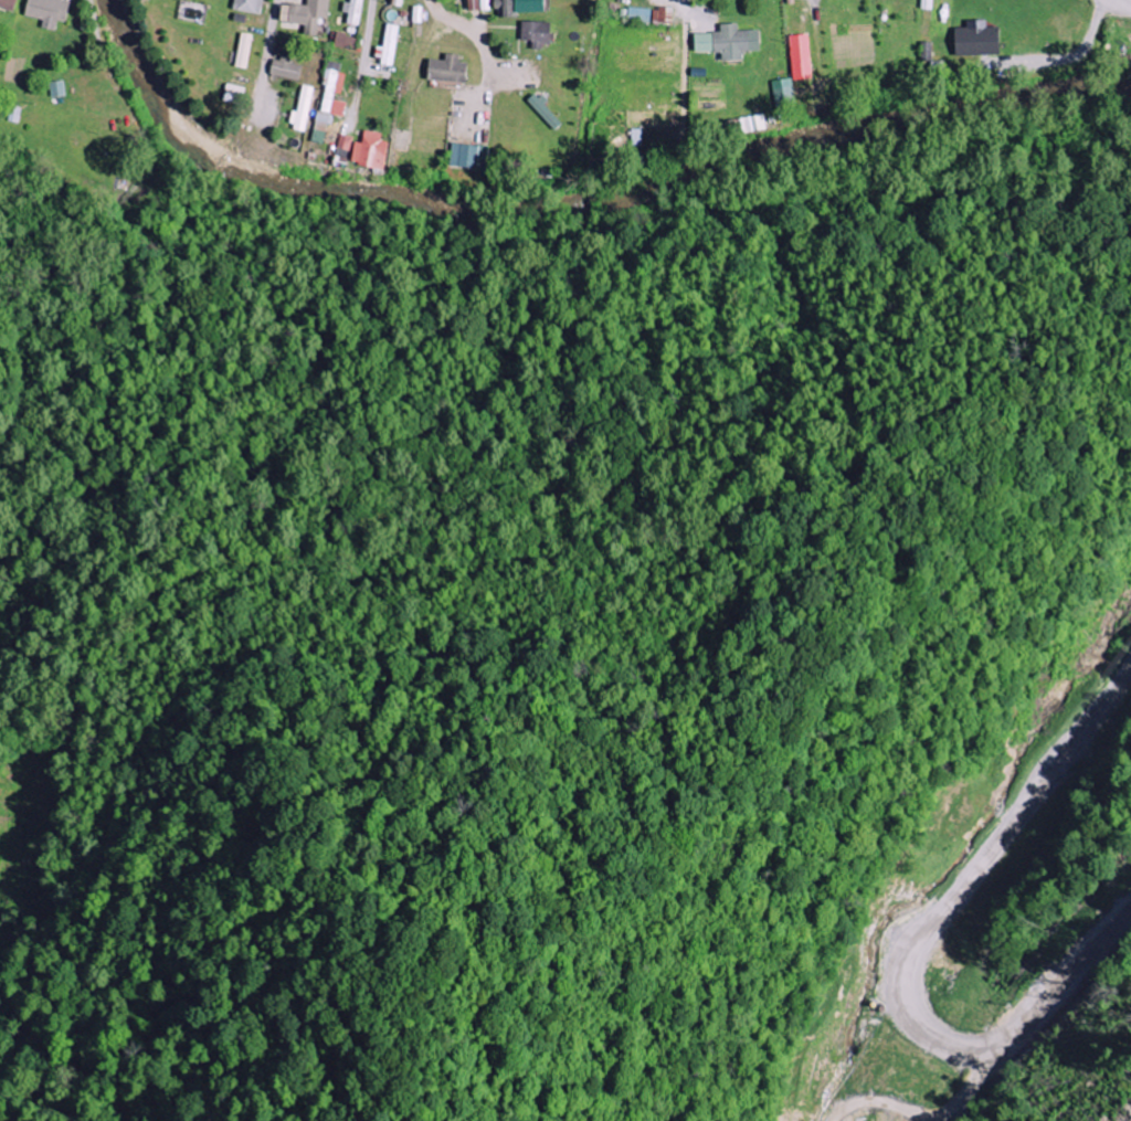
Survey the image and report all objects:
building: (399, 2)
building: (8, 4)
building: (478, 4)
building: (250, 6)
building: (532, 6)
building: (505, 9)
building: (353, 11)
building: (49, 12)
building: (307, 14)
road: (567, 14)
building: (640, 15)
building: (663, 15)
road: (273, 22)
road: (530, 29)
building: (537, 33)
building: (346, 40)
road: (366, 40)
building: (979, 40)
building: (730, 42)
building: (389, 47)
building: (244, 51)
building: (802, 57)
building: (287, 70)
building: (448, 70)
building: (56, 89)
building: (334, 93)
building: (784, 95)
building: (303, 109)
building: (546, 112)
building: (749, 125)
building: (321, 127)
building: (636, 138)
building: (345, 148)
building: (371, 152)
building: (465, 156)
road: (1091, 676)

